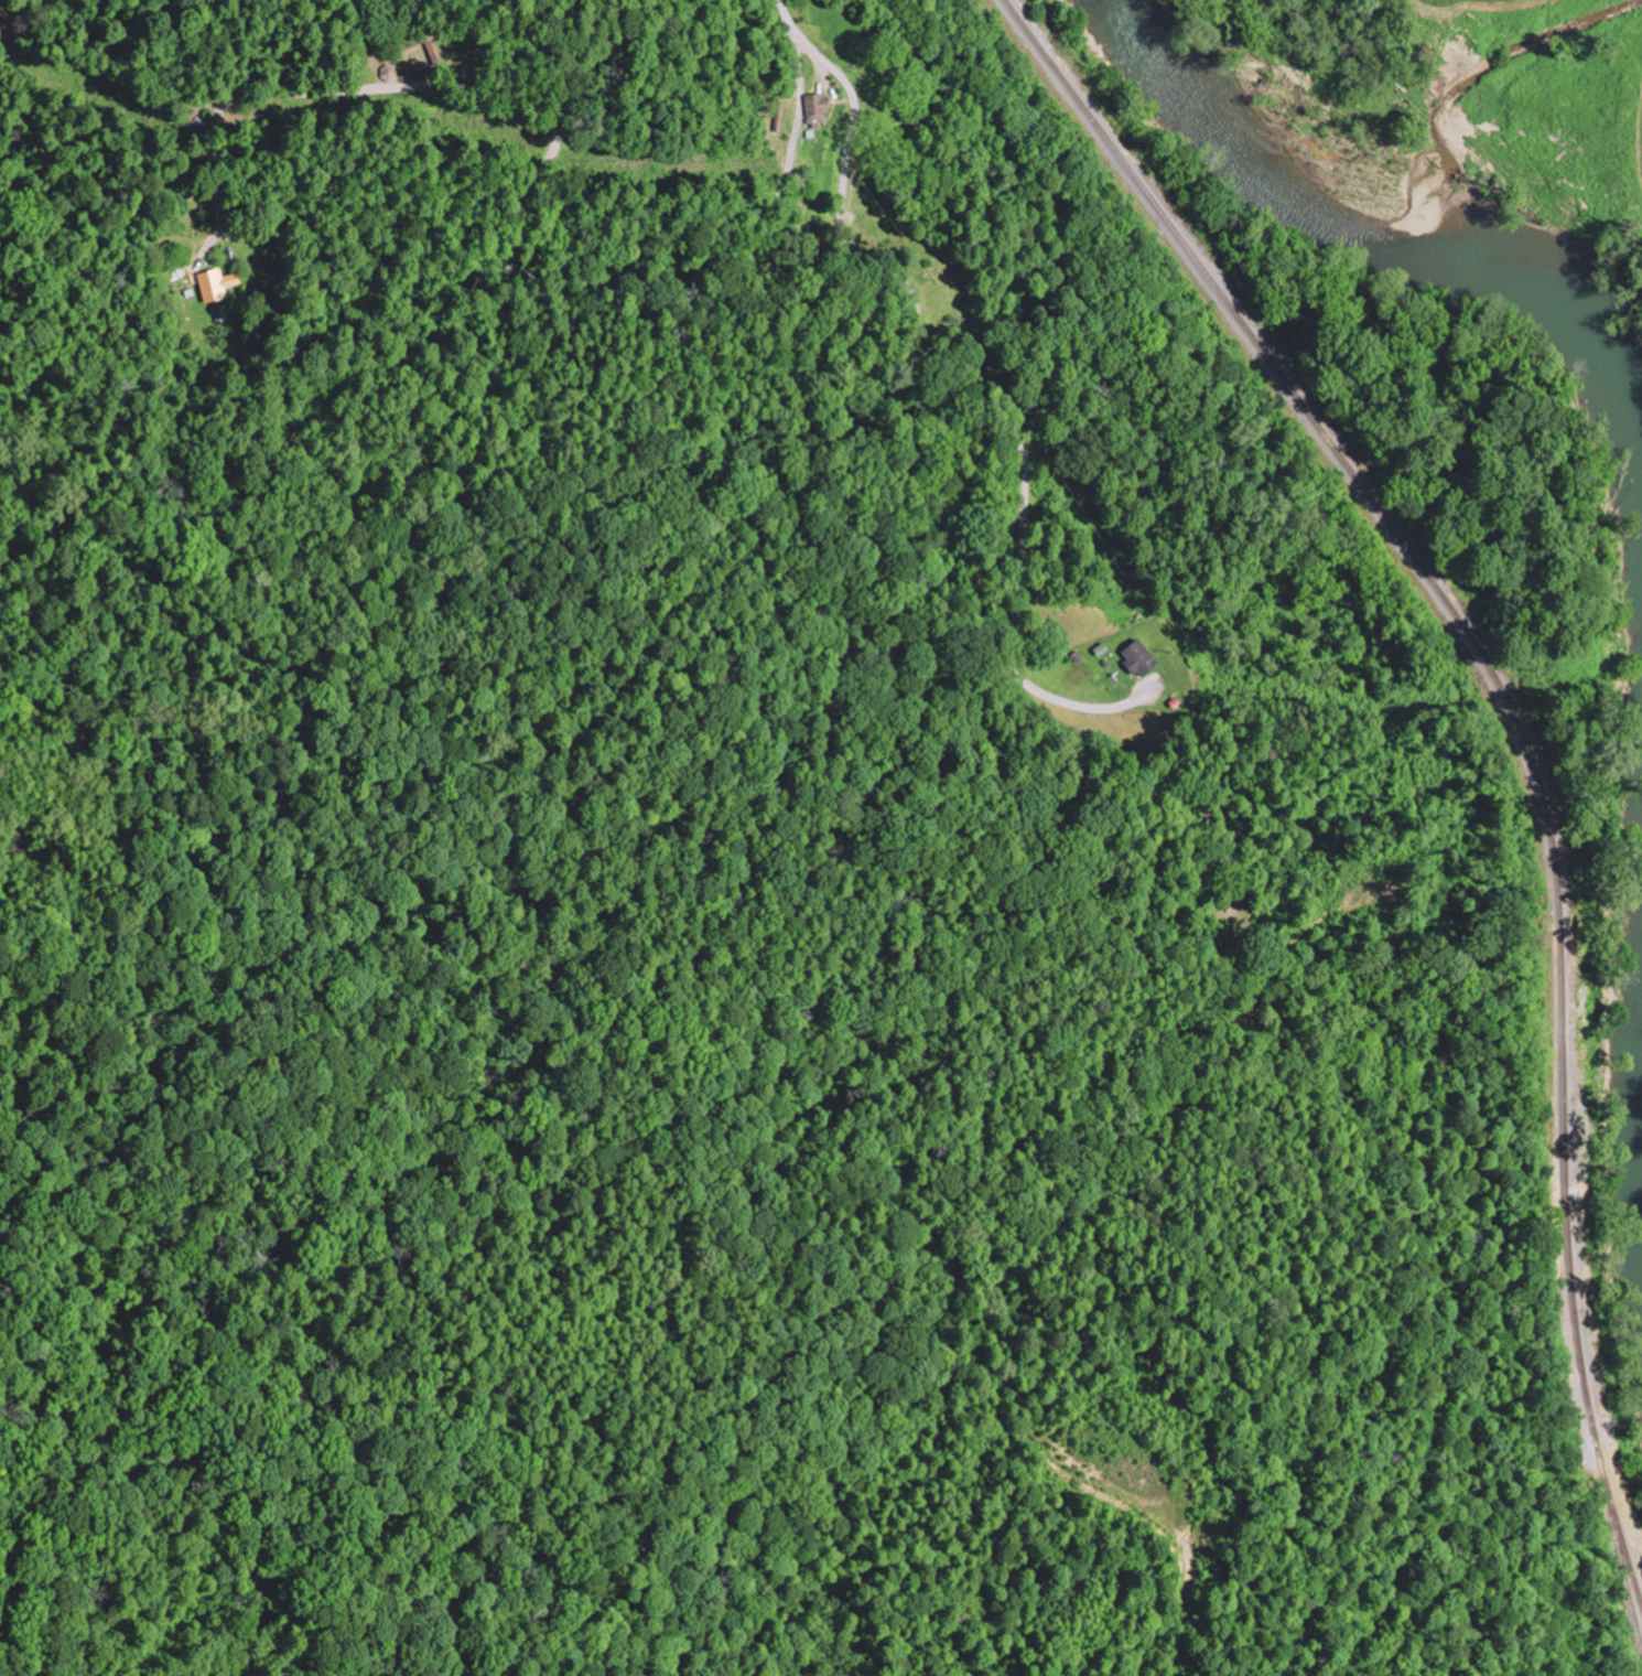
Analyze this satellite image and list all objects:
building: (815, 109)
river: (1439, 203)
building: (215, 286)
road: (928, 421)
building: (1136, 658)
railway: (1519, 726)
railway: (1621, 1565)

